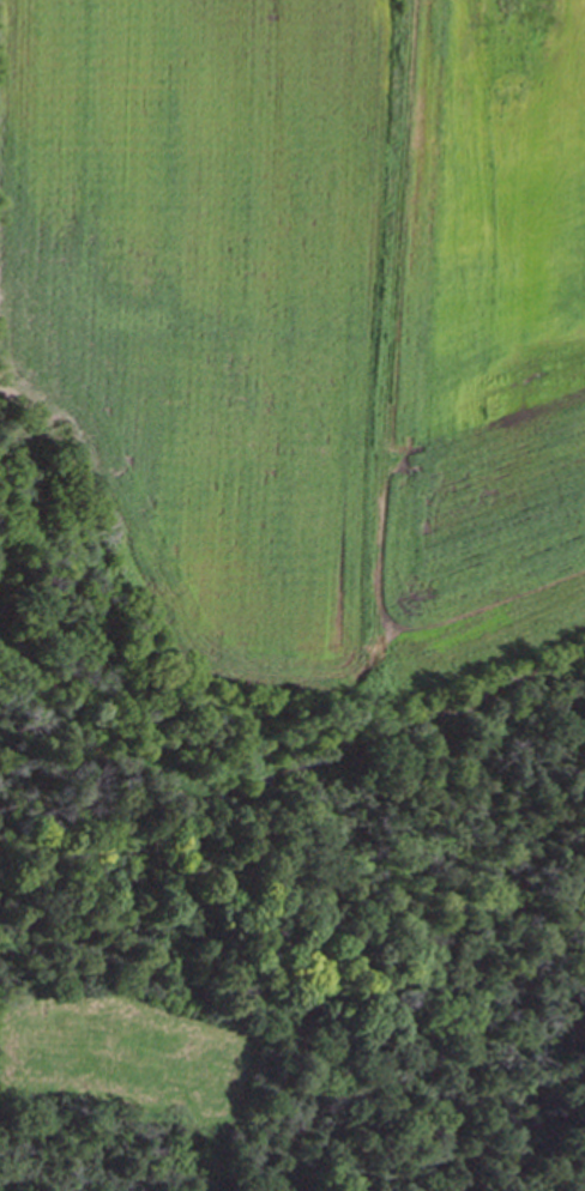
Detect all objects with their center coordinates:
crop: (306, 325)

